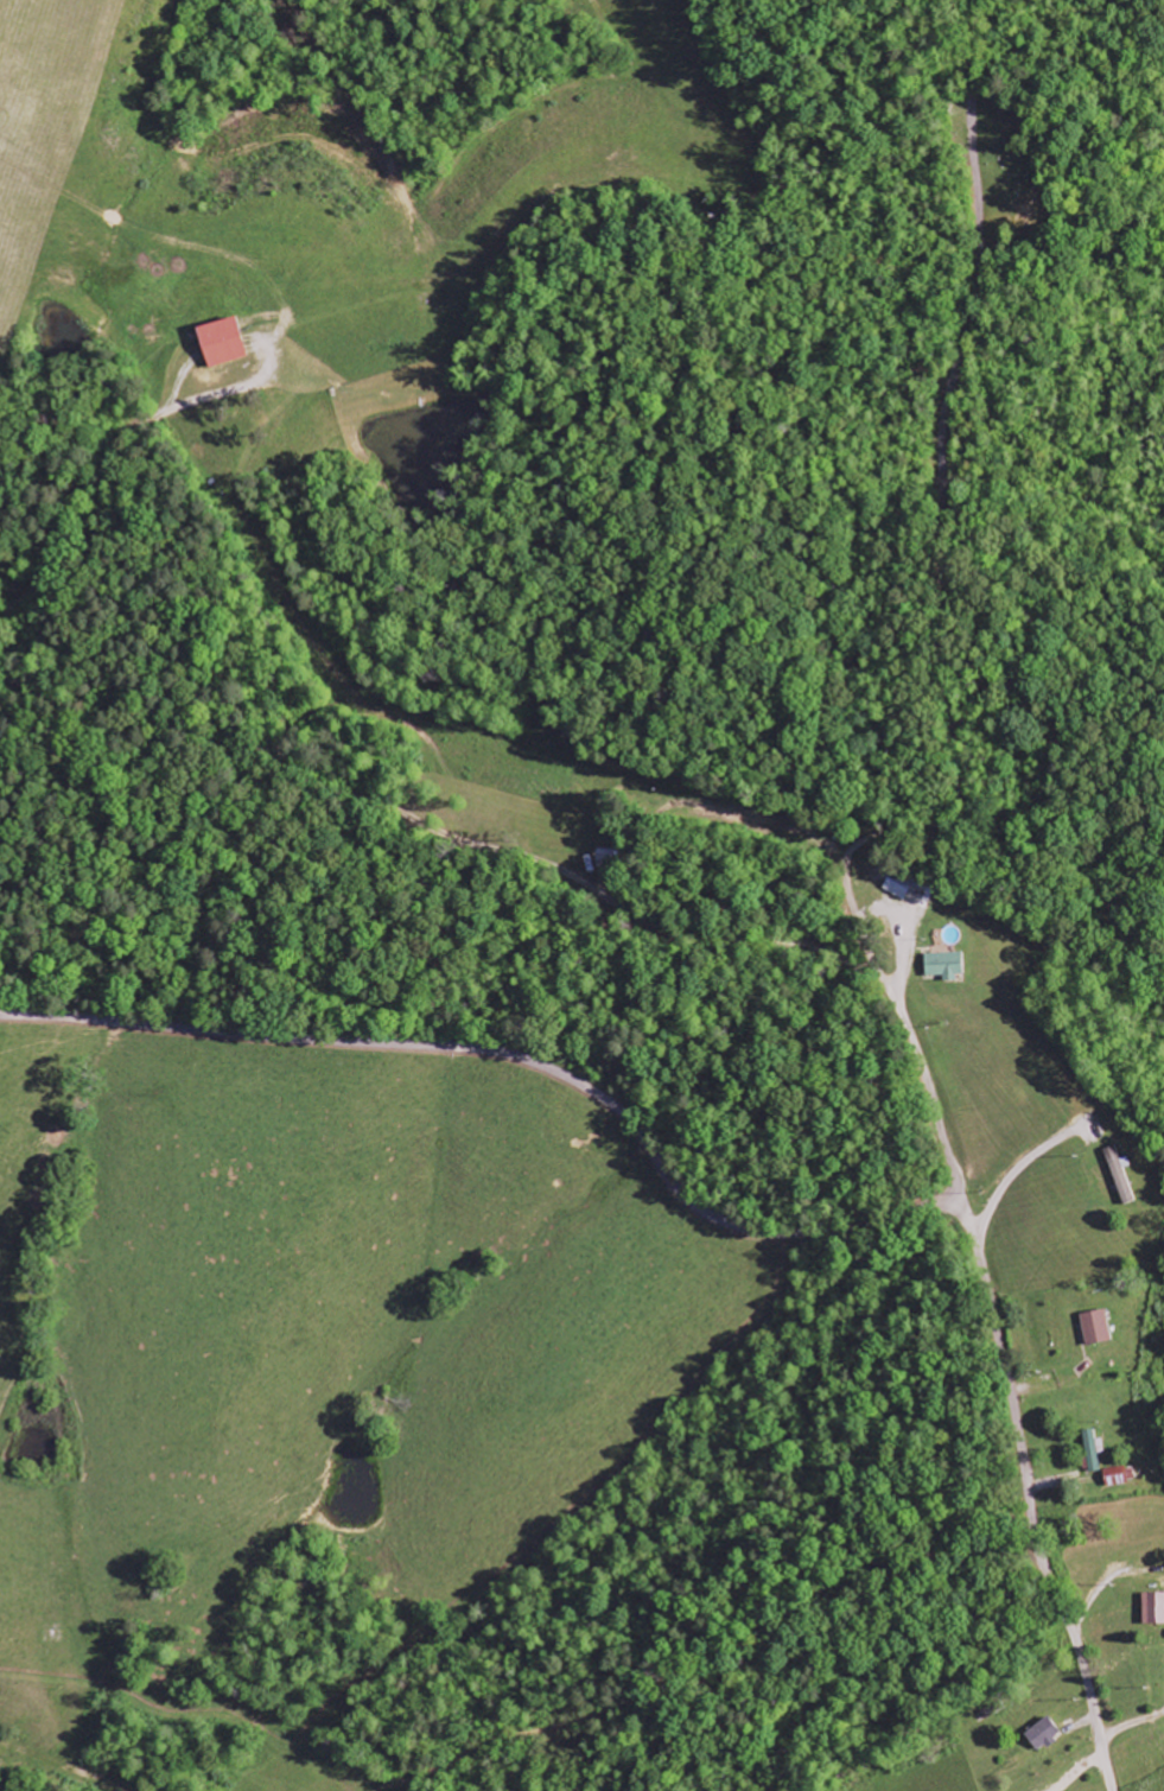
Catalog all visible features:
building: (220, 342)
road: (946, 688)
building: (606, 858)
building: (897, 885)
building: (943, 965)
road: (514, 1056)
building: (1119, 1176)
building: (1095, 1328)
building: (1092, 1450)
building: (1119, 1476)
road: (1029, 1495)
building: (1155, 1608)
building: (1042, 1735)

